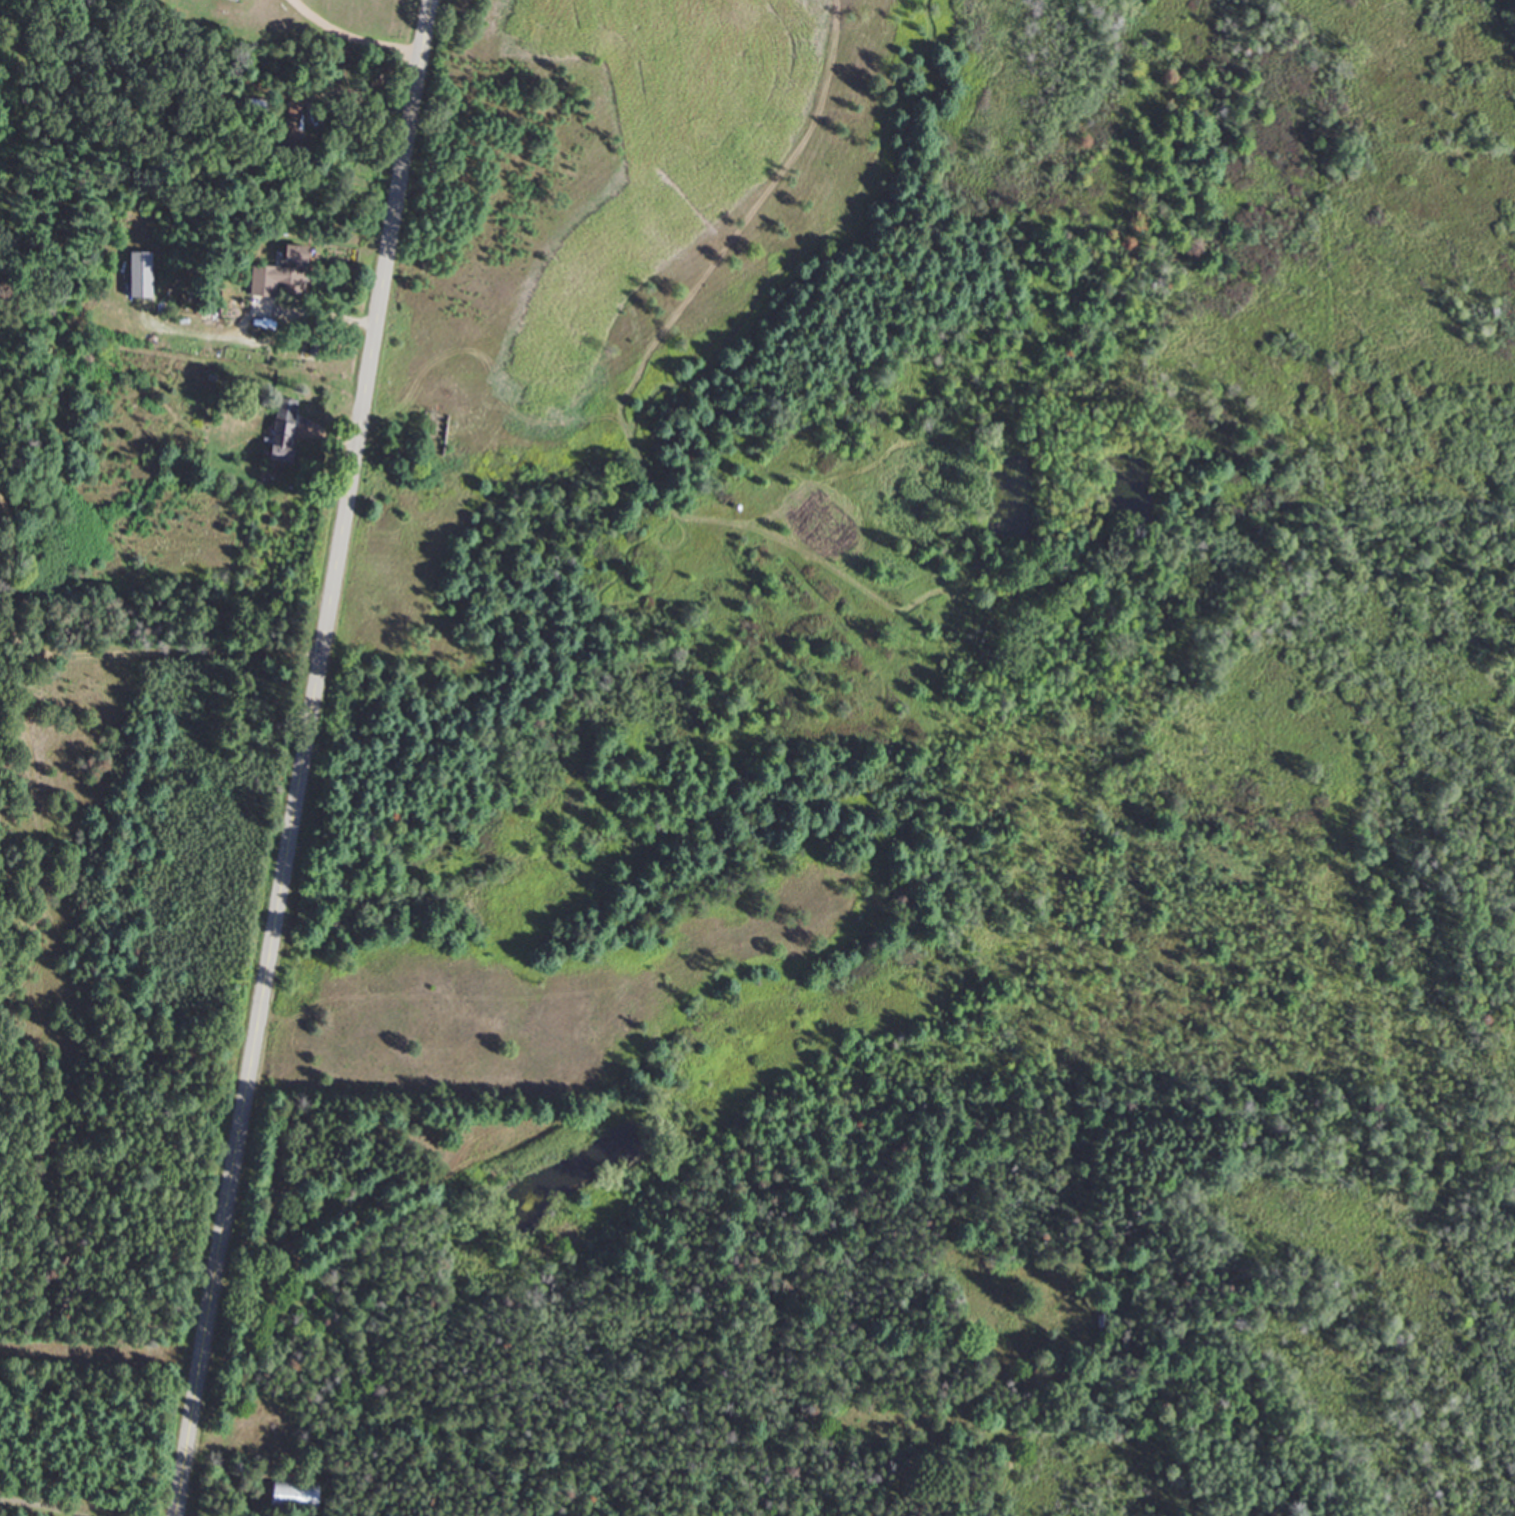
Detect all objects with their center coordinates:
building: (236, 0)
road: (349, 40)
building: (291, 122)
building: (282, 273)
building: (285, 429)
road: (310, 758)
building: (1093, 1322)
road: (220, 1463)
building: (293, 1495)

